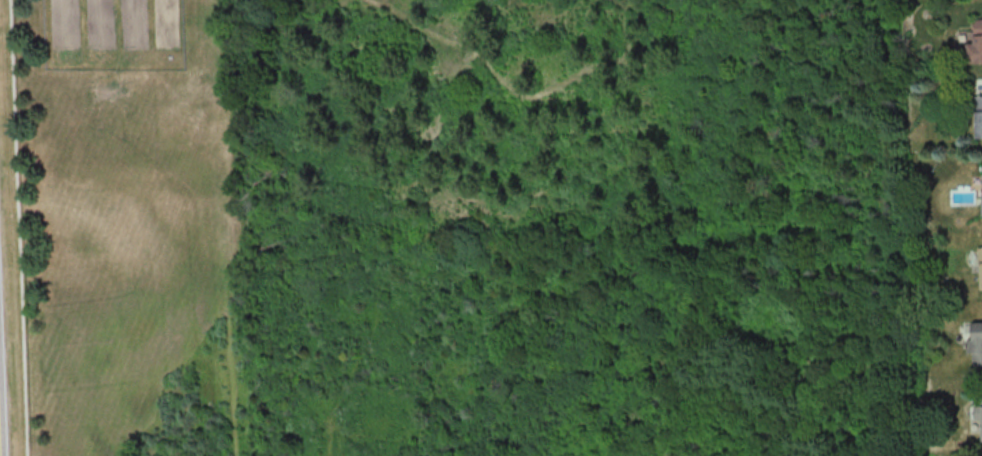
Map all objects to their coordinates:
building: (976, 44)
road: (516, 91)
park: (447, 106)
building: (978, 117)
road: (18, 228)
road: (224, 228)
building: (981, 263)
park: (473, 334)
building: (976, 345)
road: (680, 393)
road: (568, 411)
road: (504, 416)
road: (718, 428)

